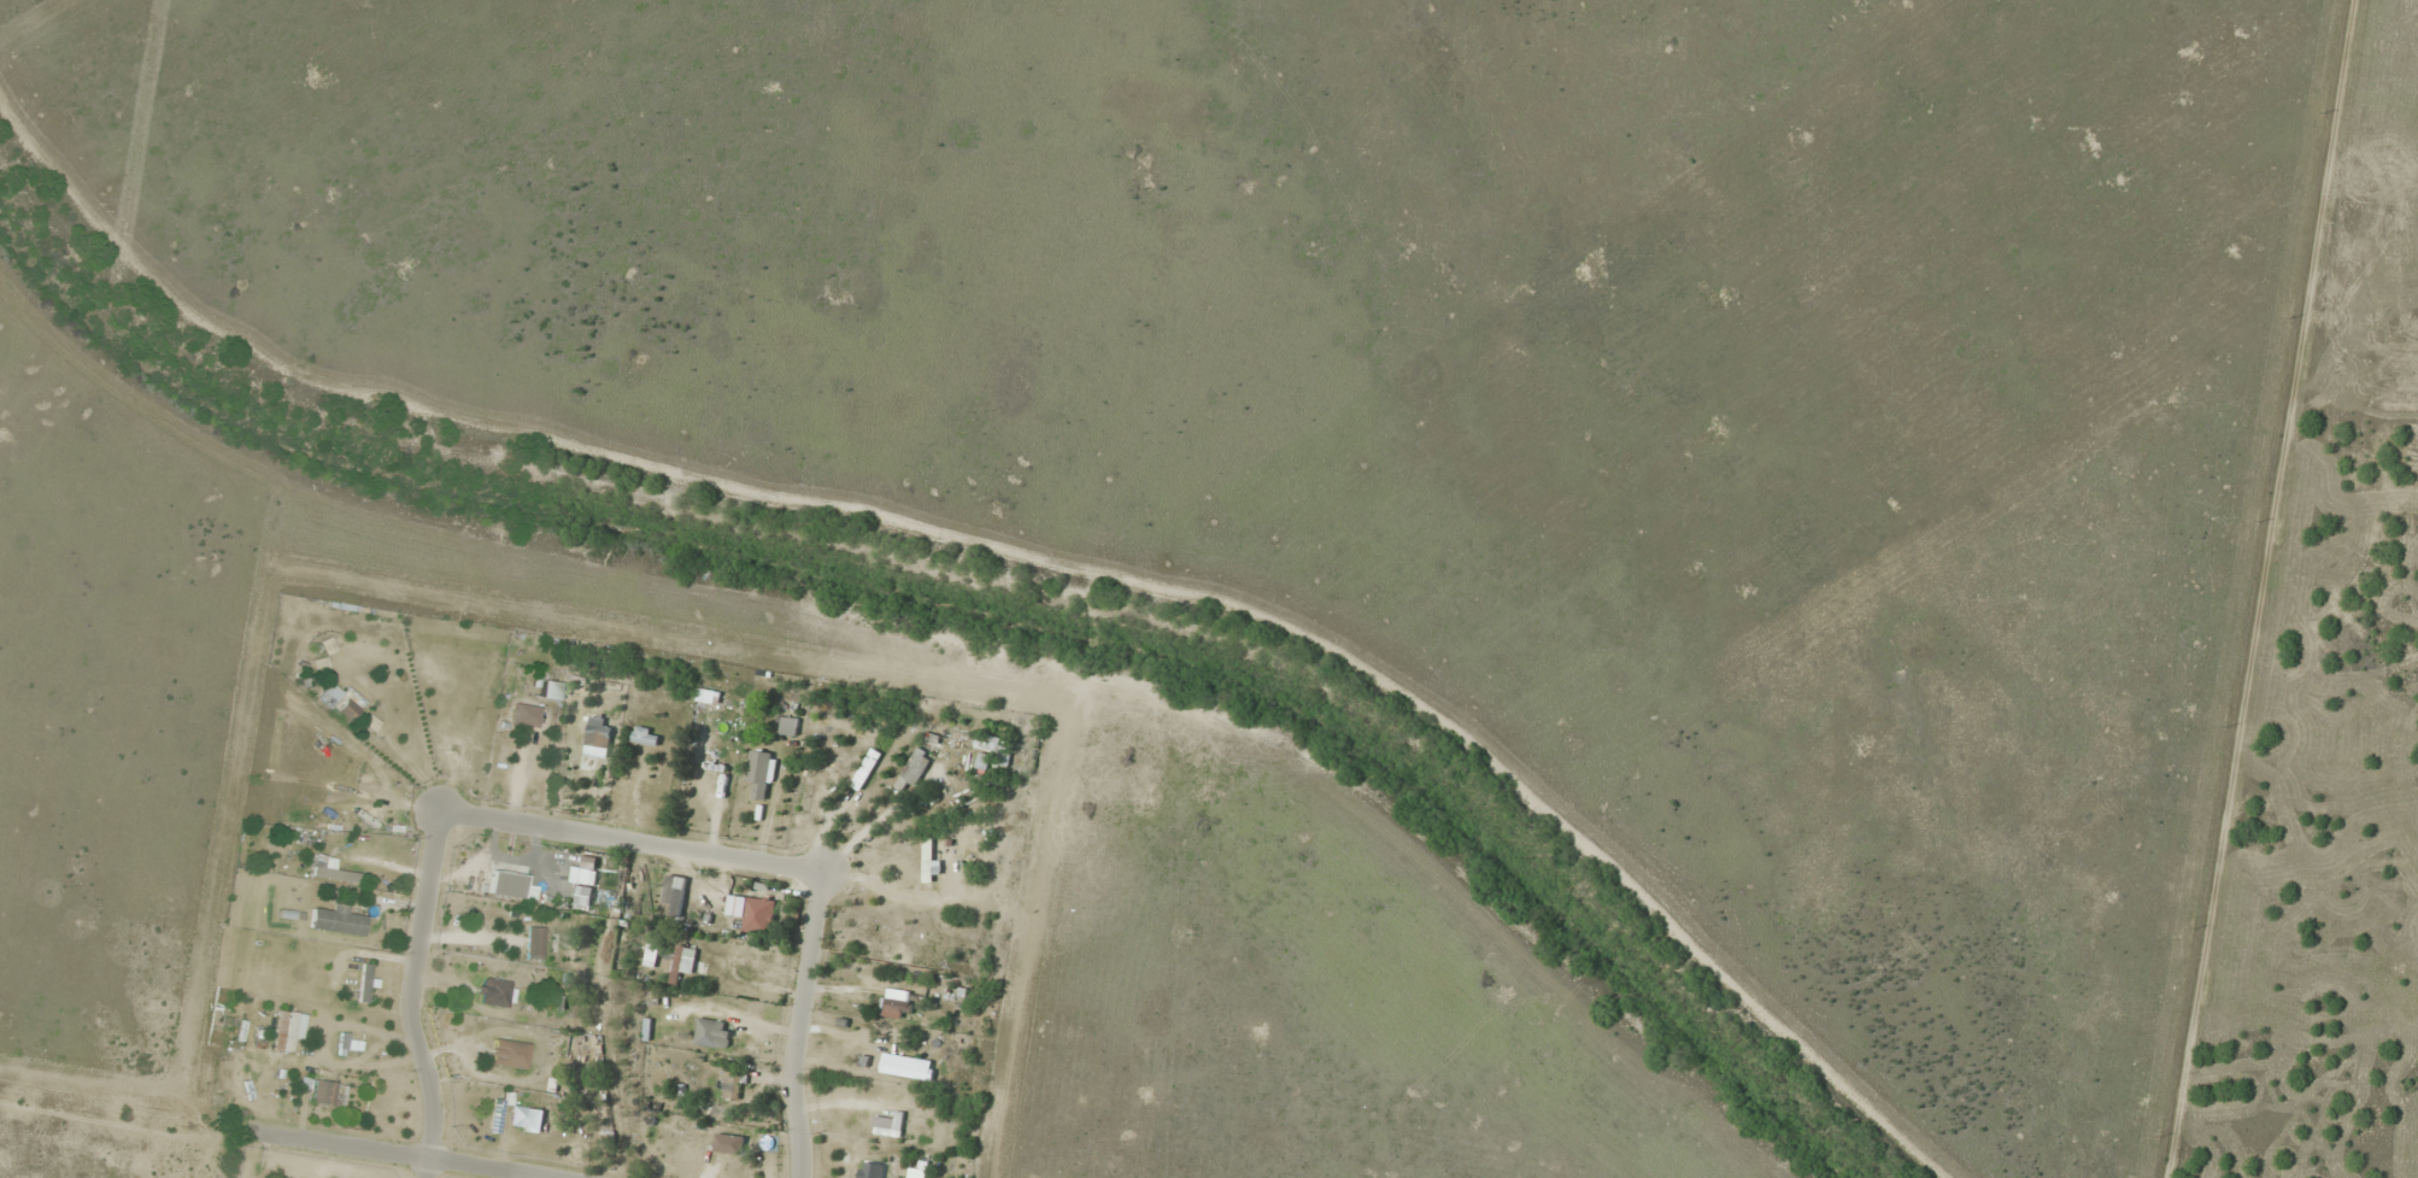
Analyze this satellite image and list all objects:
building: (551, 690)
building: (344, 702)
building: (527, 715)
building: (787, 725)
building: (593, 731)
building: (645, 735)
building: (712, 746)
building: (844, 760)
building: (980, 766)
building: (912, 769)
building: (759, 773)
building: (381, 799)
road: (632, 837)
building: (928, 861)
building: (345, 871)
building: (755, 915)
building: (700, 918)
building: (340, 919)
building: (535, 942)
building: (681, 961)
building: (365, 983)
building: (503, 991)
road: (410, 992)
road: (798, 1022)
building: (711, 1032)
building: (352, 1039)
building: (510, 1053)
building: (730, 1084)
building: (329, 1092)
building: (497, 1115)
building: (724, 1142)
building: (679, 1148)
road: (398, 1154)
building: (891, 1166)

